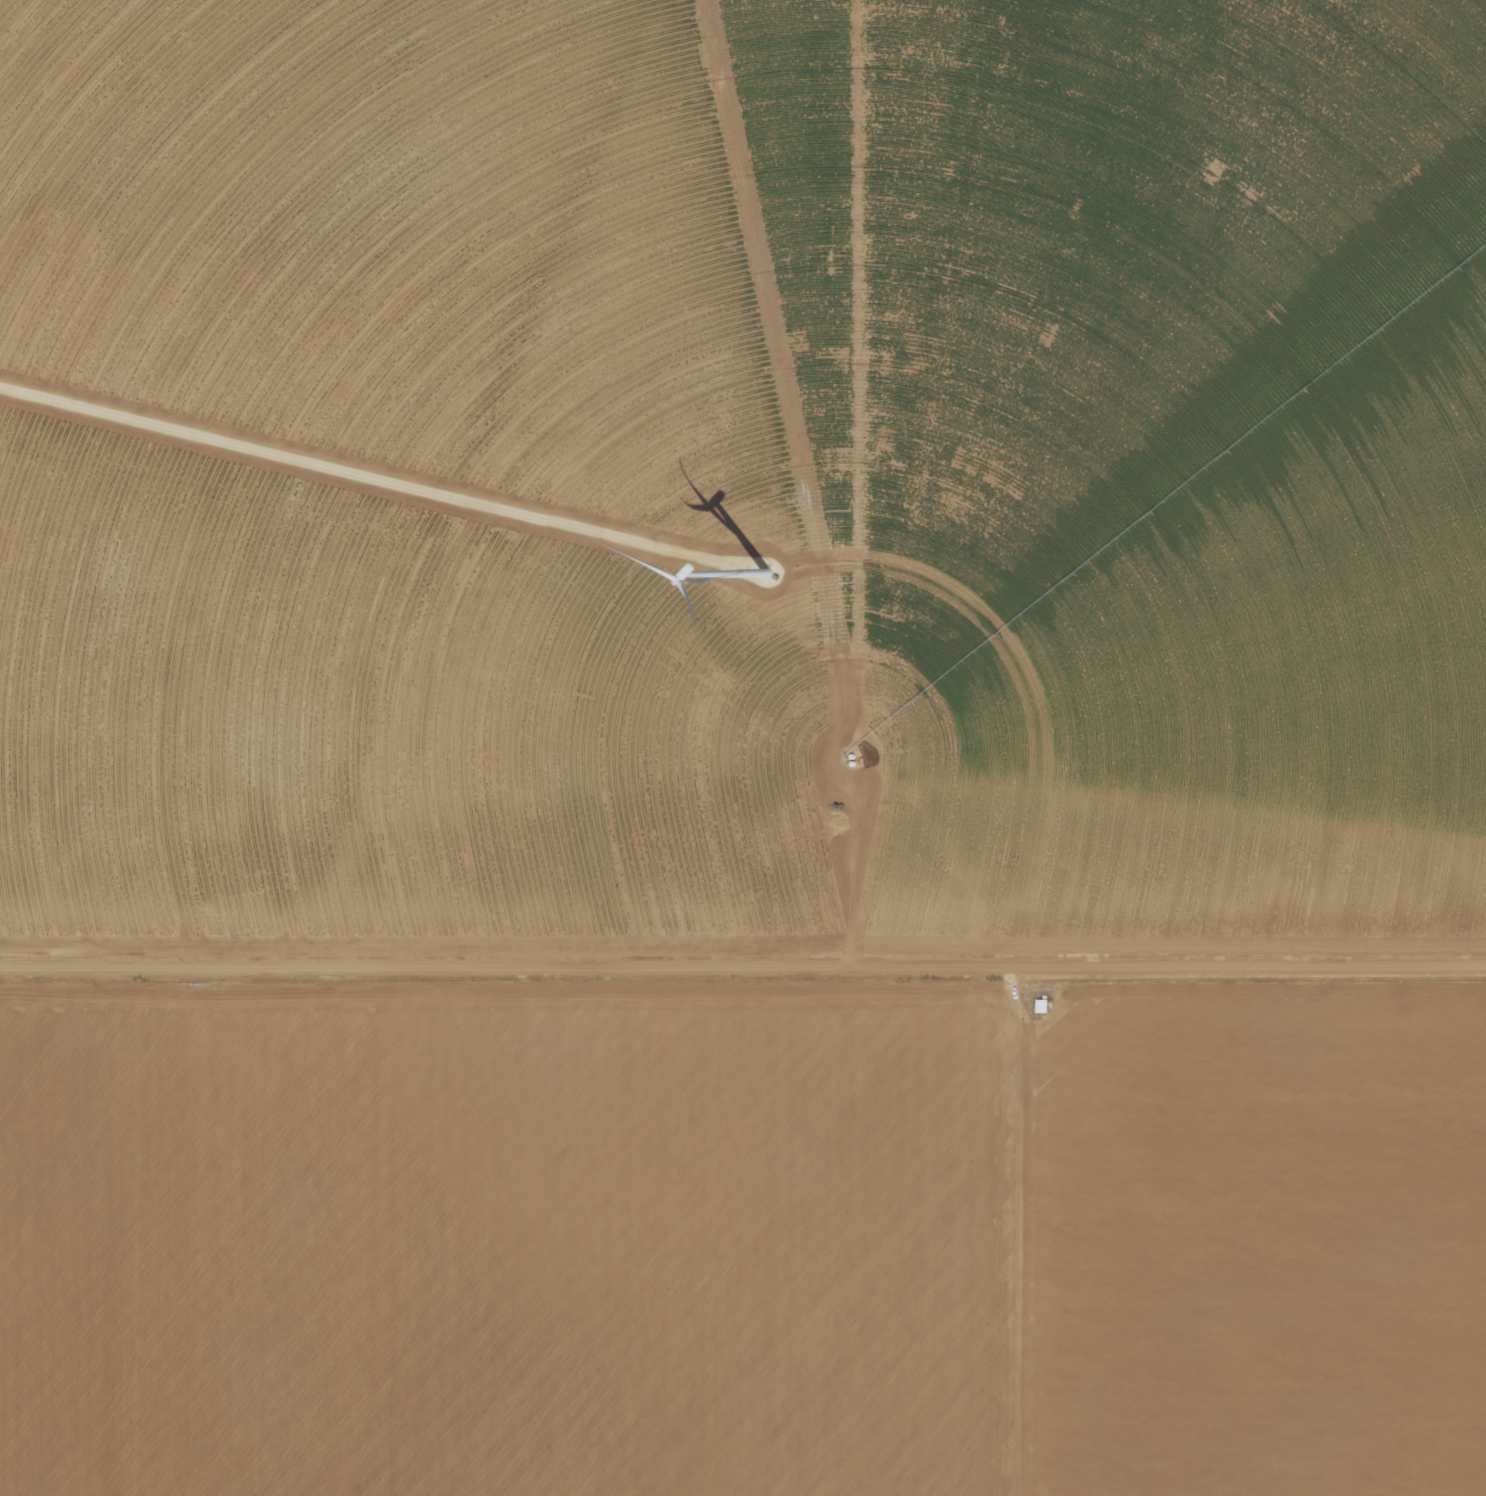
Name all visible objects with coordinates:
wind turbine: (765, 576)
road: (845, 864)
road: (742, 944)
building: (1045, 1008)

